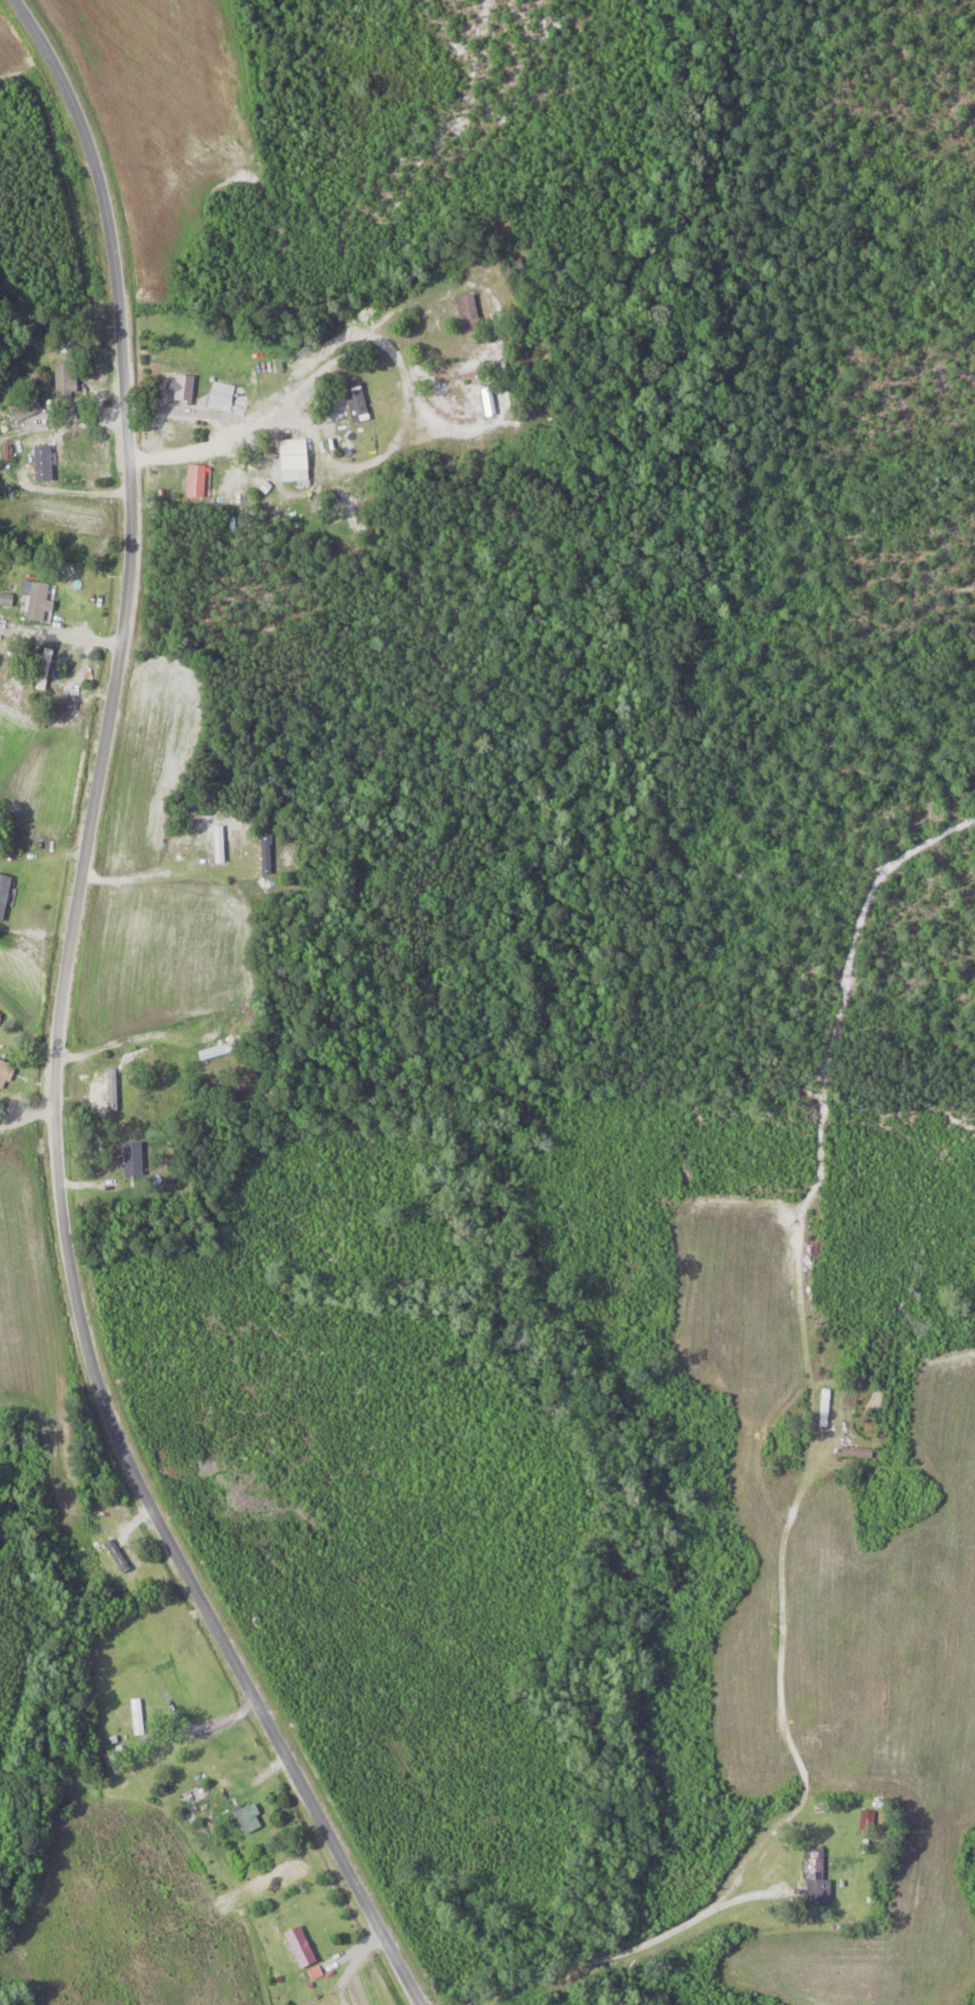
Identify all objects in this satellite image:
road: (412, 299)
building: (471, 311)
building: (67, 380)
building: (184, 389)
building: (223, 397)
building: (359, 402)
building: (26, 410)
building: (296, 454)
building: (45, 457)
building: (198, 480)
building: (8, 598)
building: (39, 600)
building: (46, 668)
building: (220, 843)
building: (5, 894)
building: (1, 1018)
road: (61, 1032)
building: (220, 1051)
building: (4, 1073)
road: (29, 1111)
building: (135, 1159)
building: (826, 1406)
building: (858, 1451)
building: (118, 1556)
building: (139, 1716)
building: (251, 1819)
building: (868, 1820)
building: (818, 1878)
building: (302, 1947)
road: (624, 1955)

